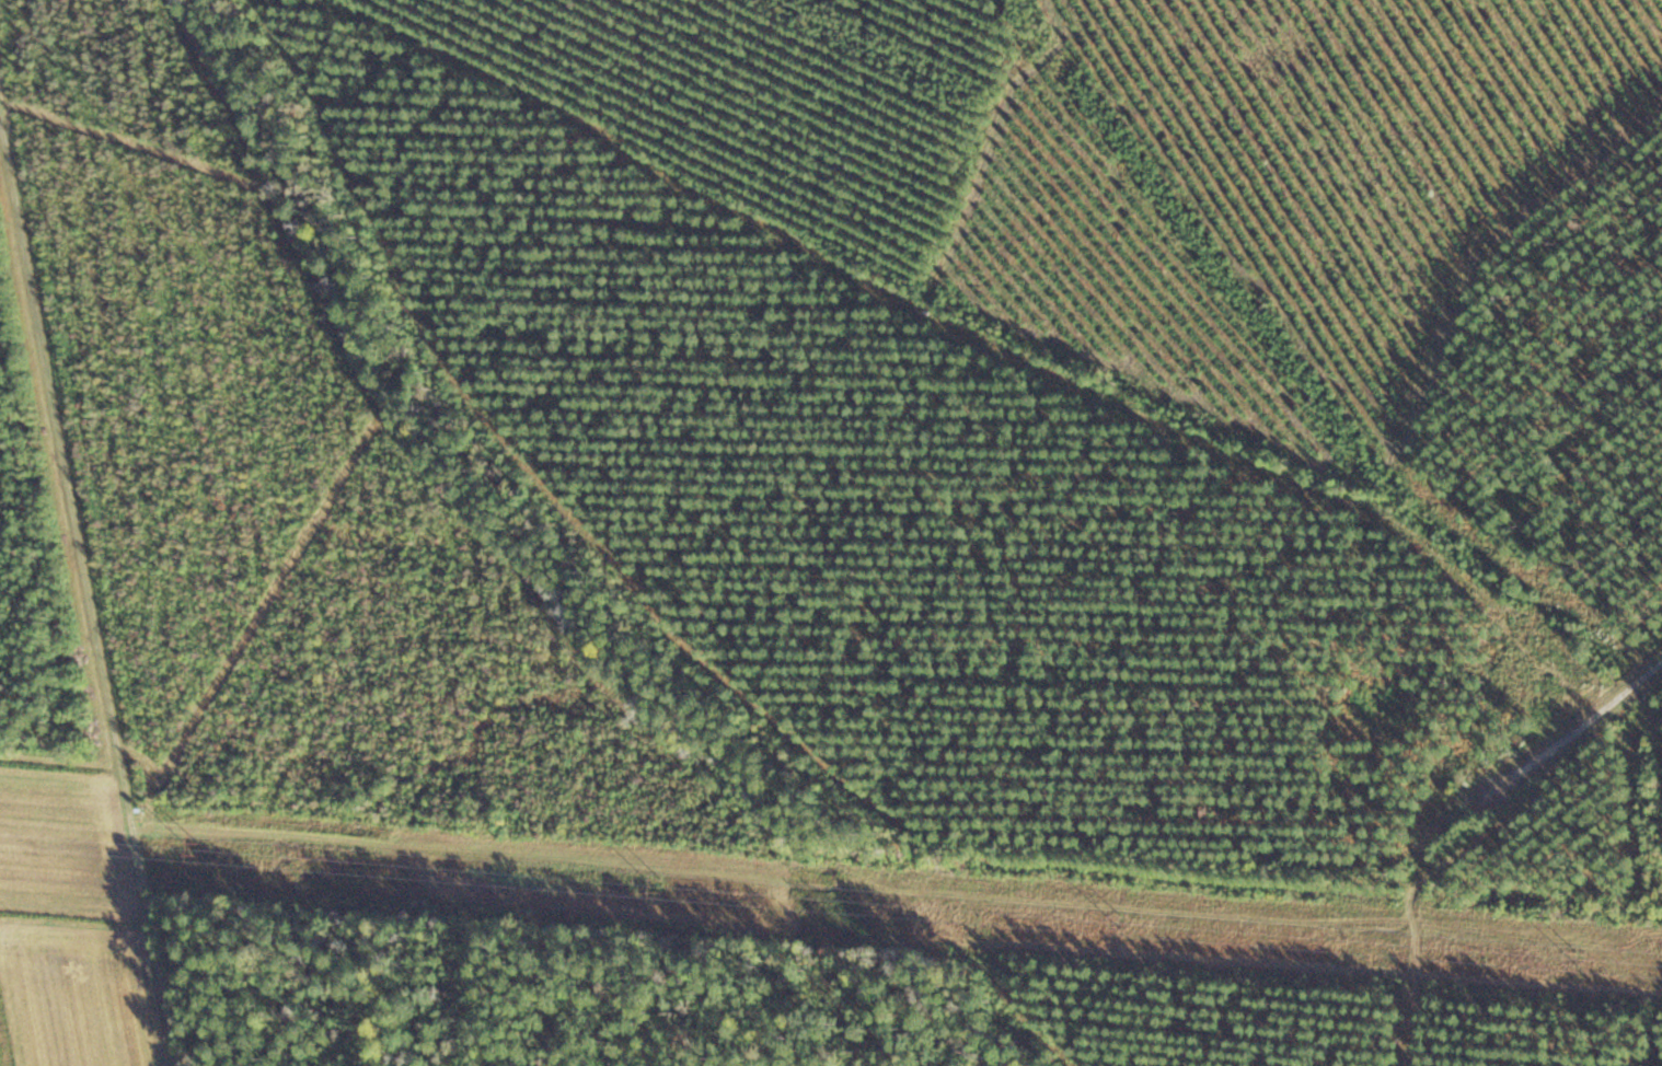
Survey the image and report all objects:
road: (74, 675)
road: (1301, 831)
power tower: (197, 845)
power tower: (659, 881)
power tower: (1119, 919)
power tower: (1573, 952)

